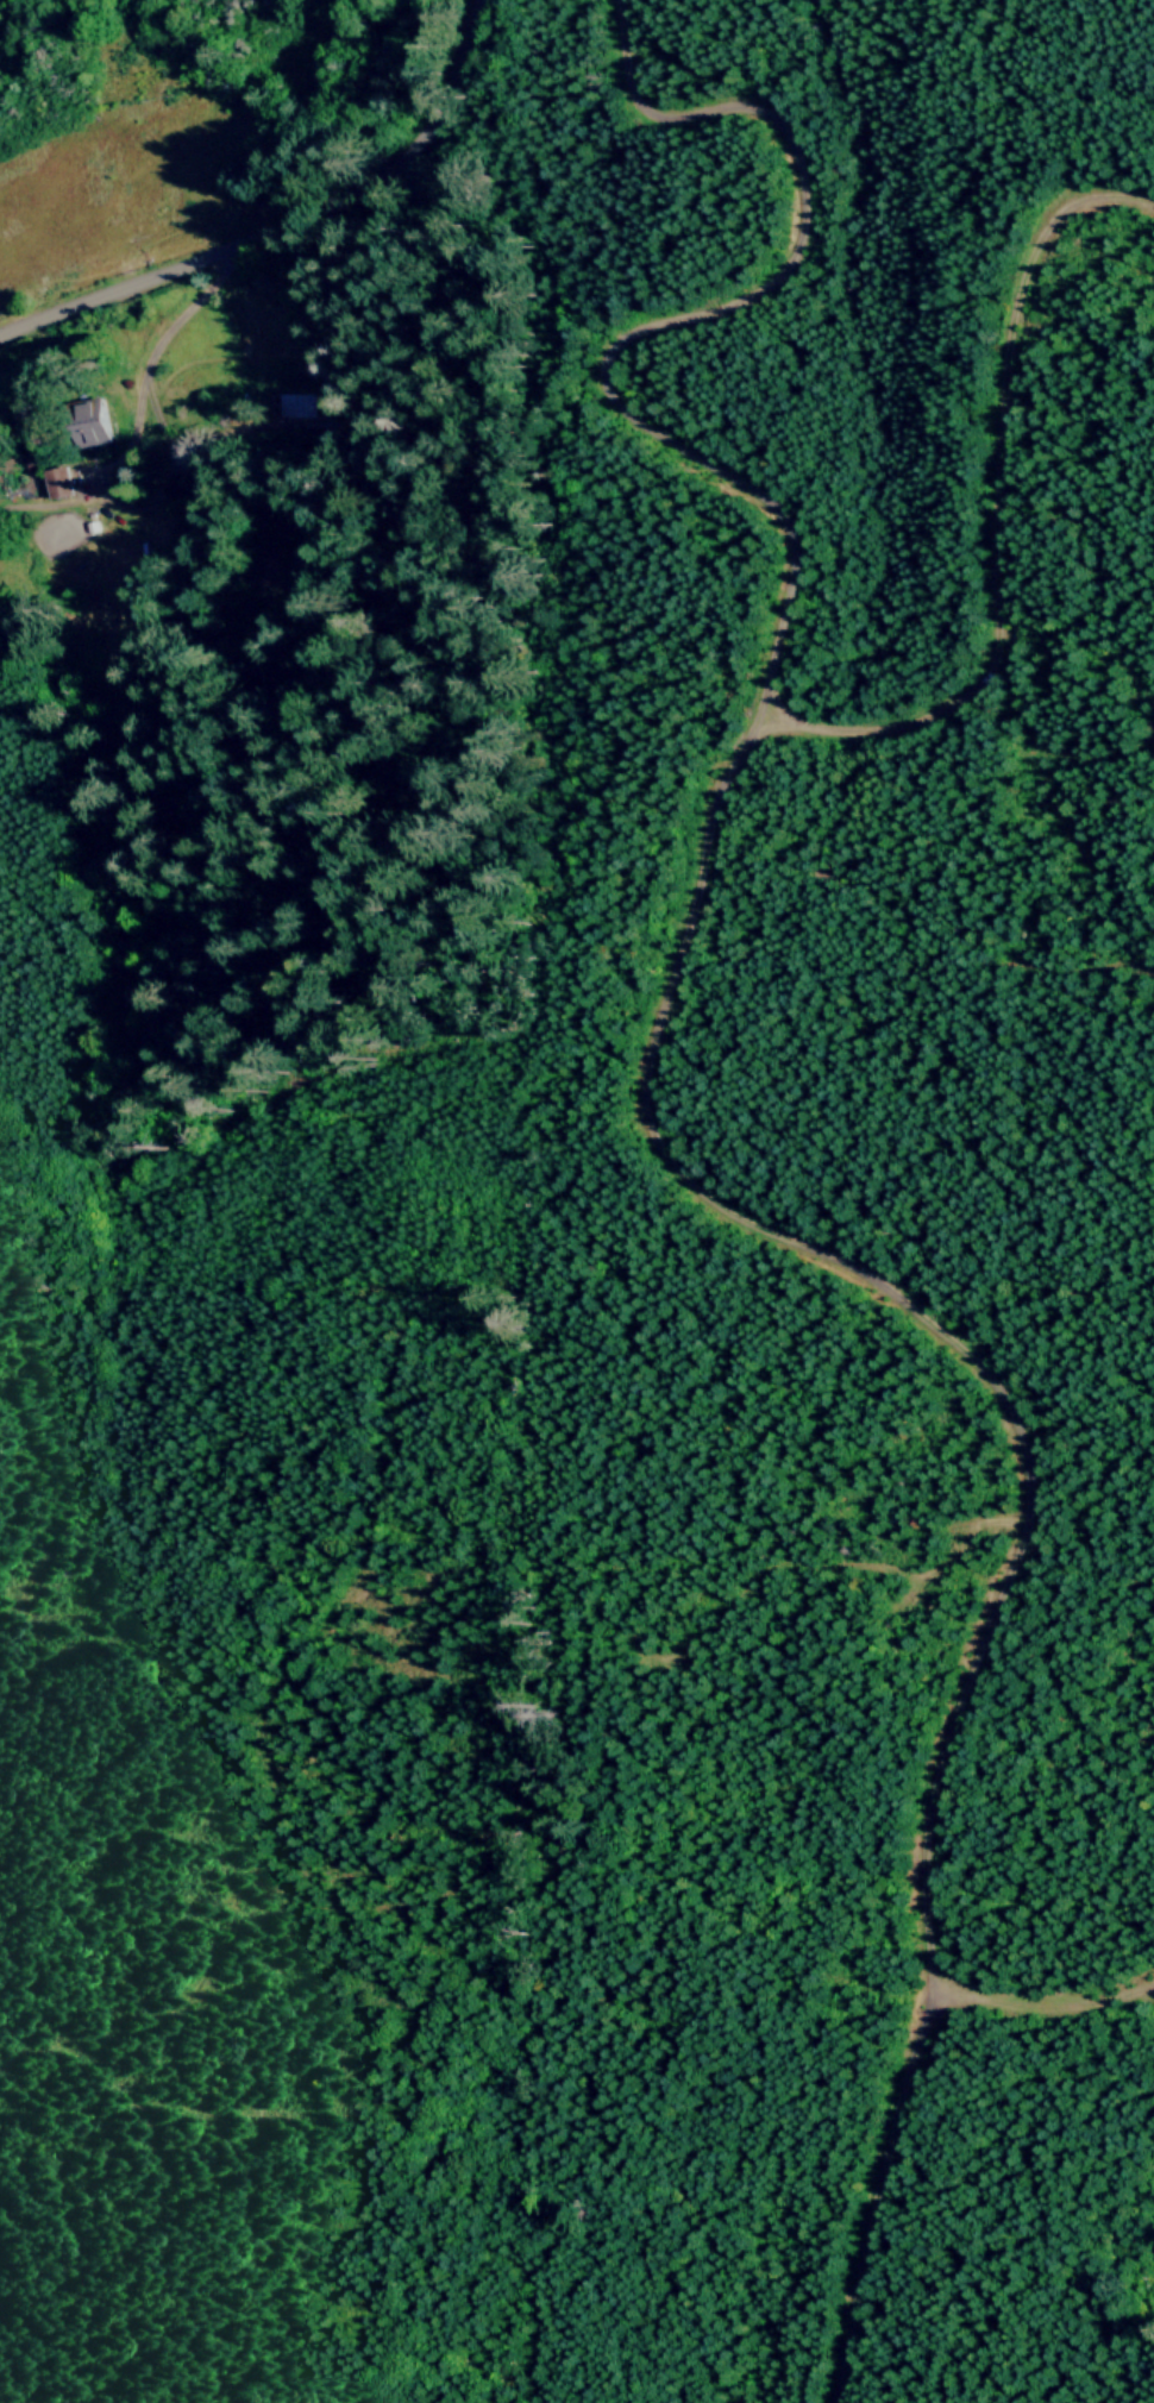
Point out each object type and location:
road: (284, 220)
road: (126, 445)

